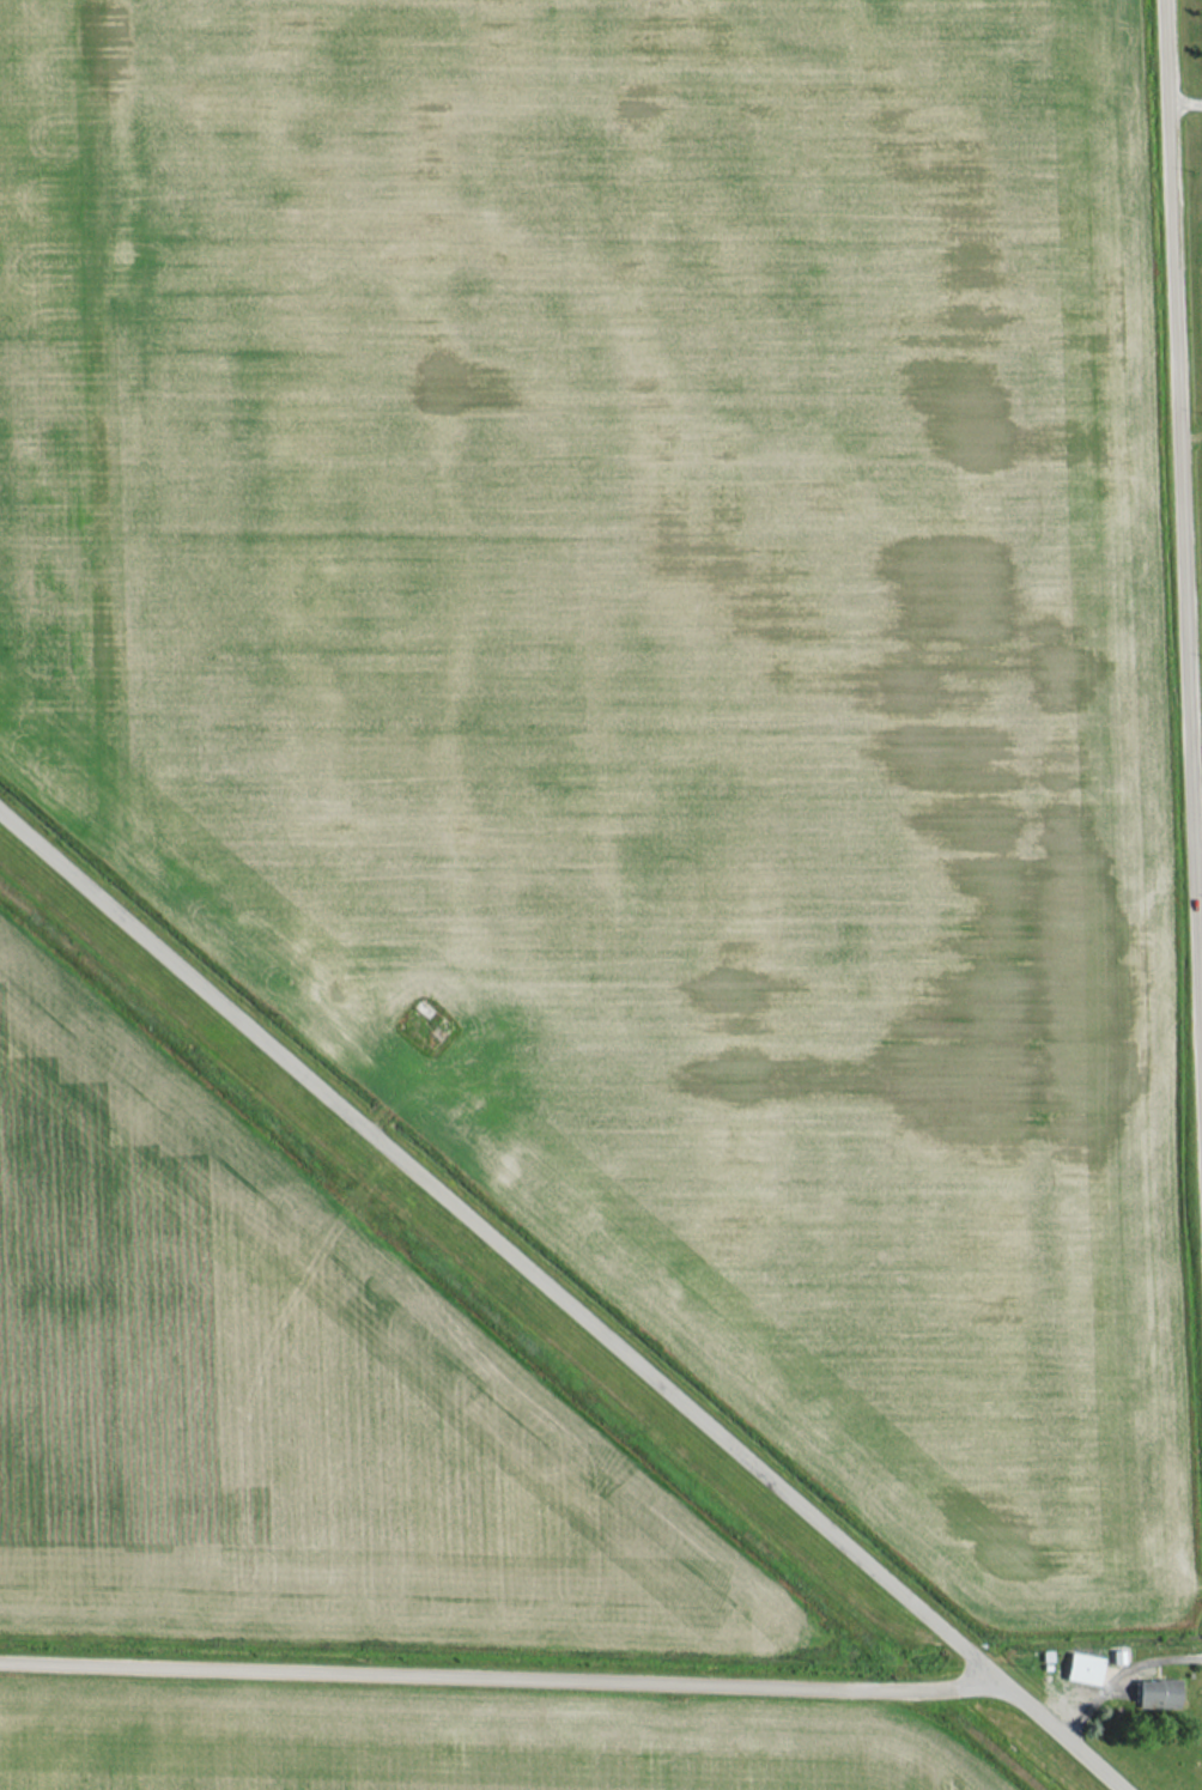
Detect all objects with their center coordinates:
road: (1186, 102)
crop: (48, 424)
crop: (624, 497)
road: (1183, 497)
road: (1198, 832)
road: (502, 1245)
crop: (879, 1251)
railway: (515, 1342)
crop: (272, 1400)
building: (1083, 1669)
road: (475, 1675)
building: (1157, 1693)
road: (1043, 1718)
crop: (449, 1745)

